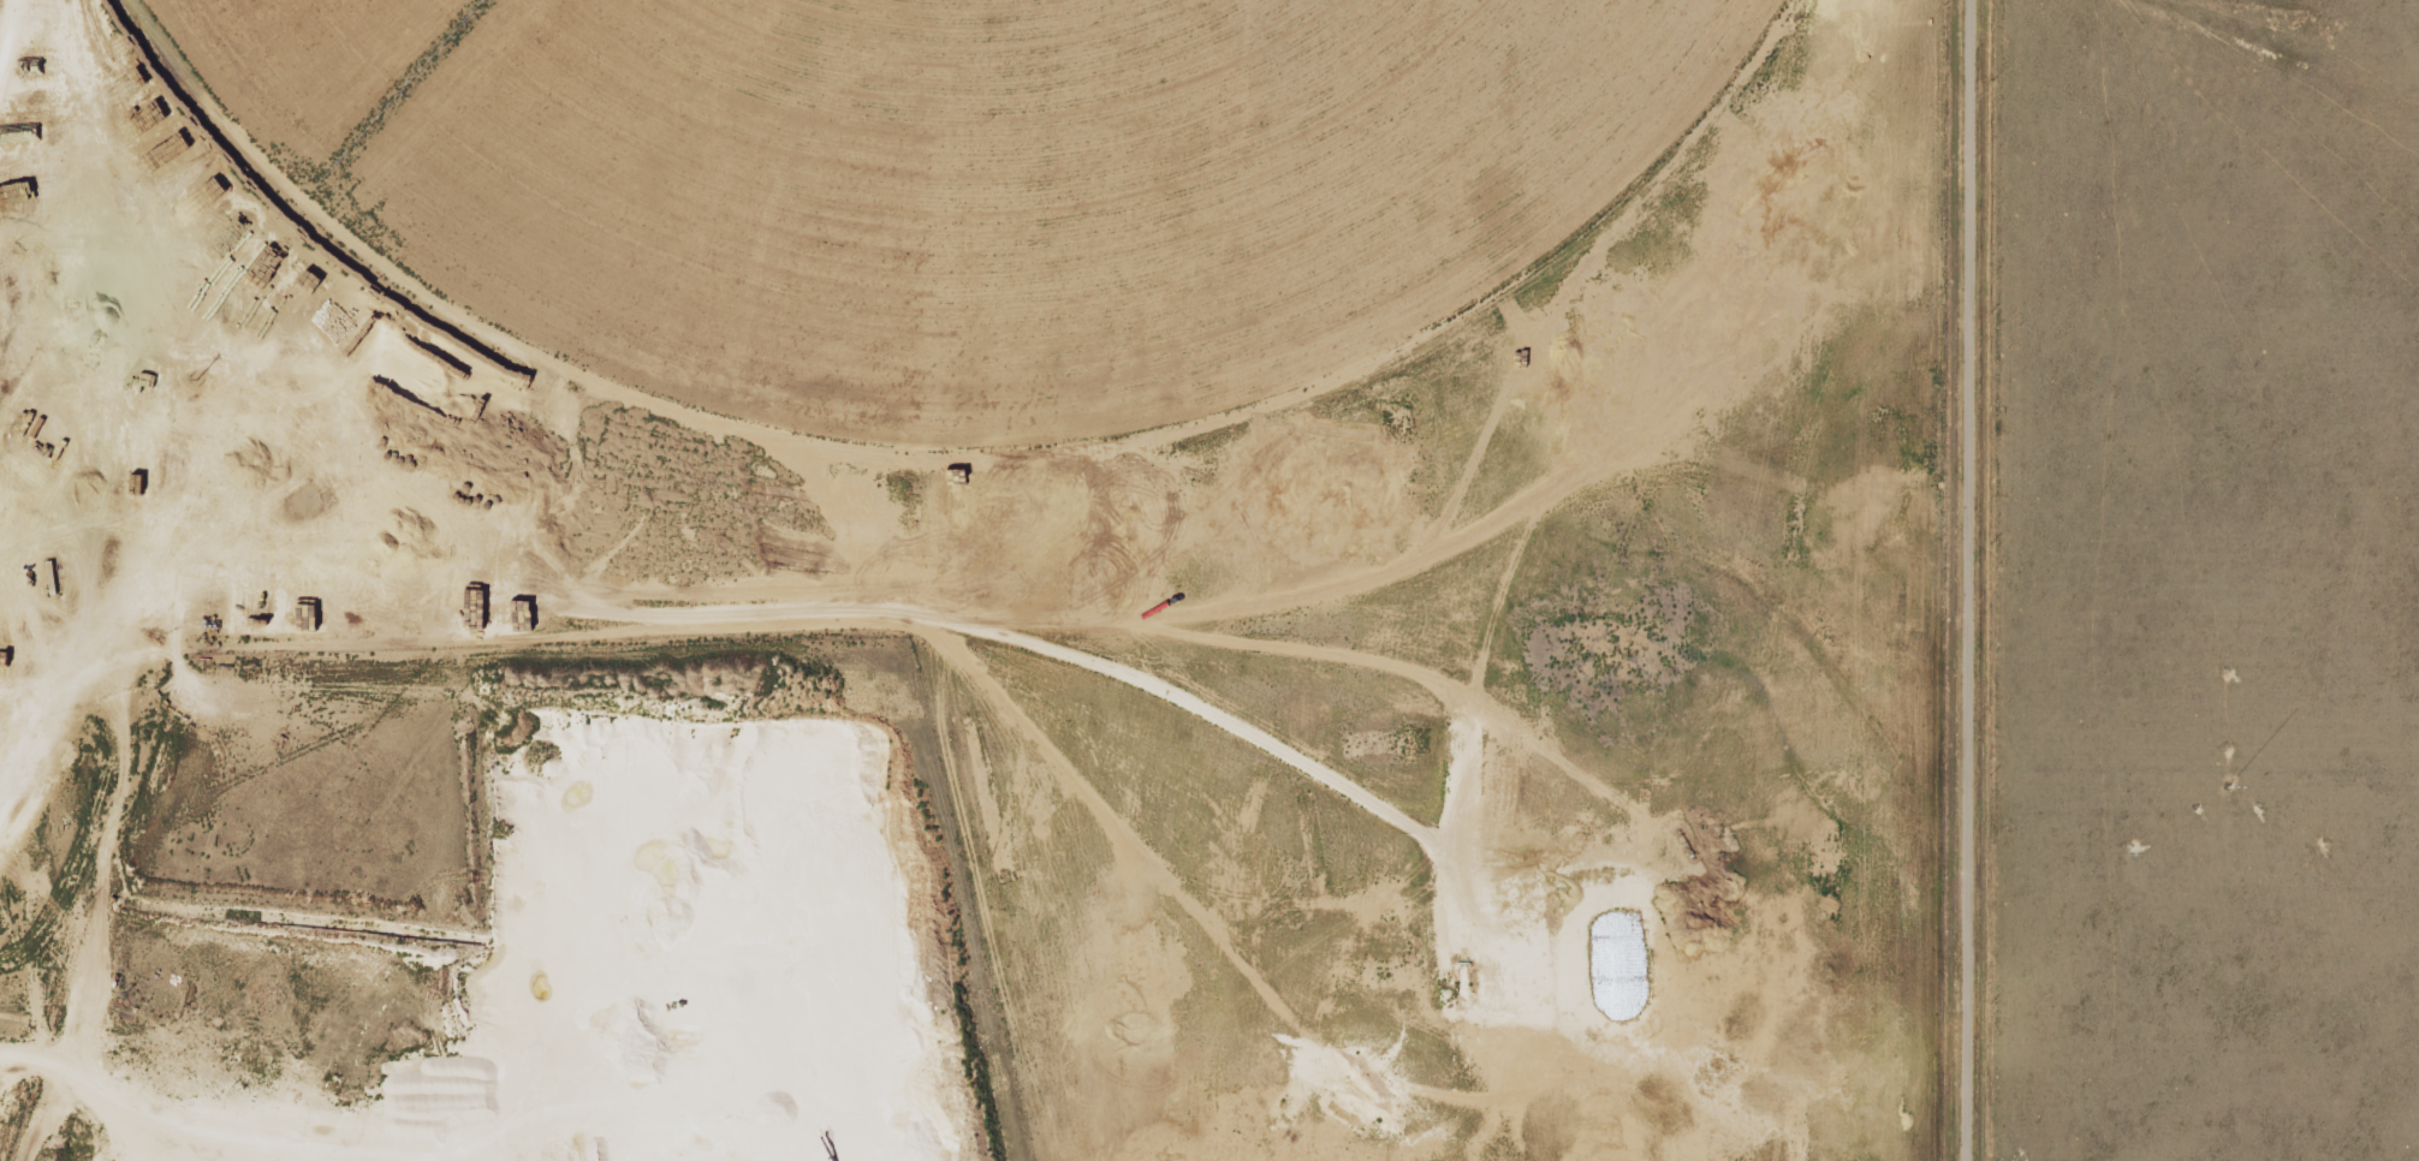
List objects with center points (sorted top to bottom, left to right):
road: (1978, 580)

